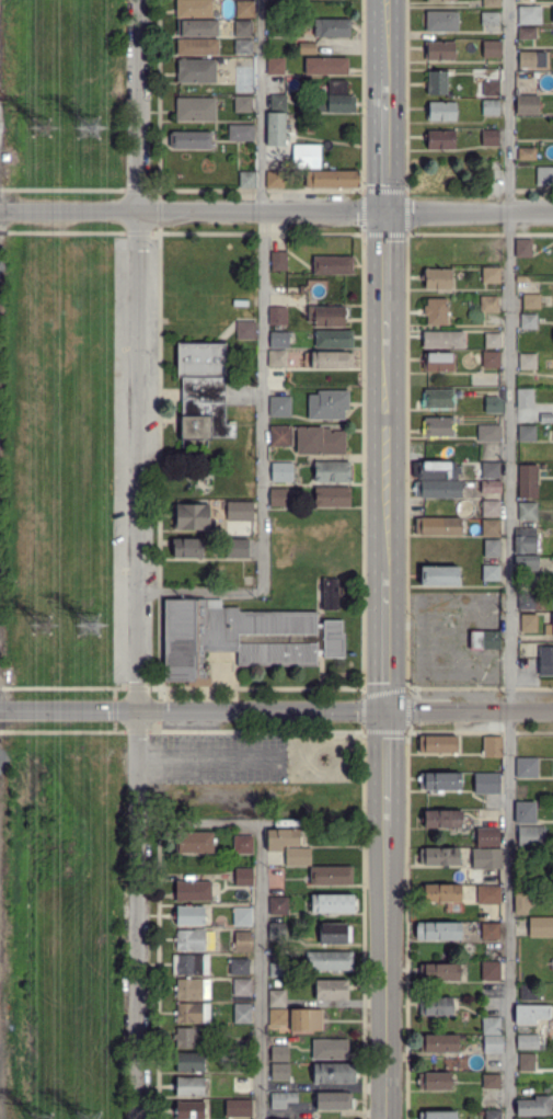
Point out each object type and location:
building: (440, 0)
building: (491, 2)
building: (194, 8)
building: (244, 9)
building: (529, 15)
building: (489, 19)
building: (441, 21)
building: (197, 27)
building: (243, 28)
building: (333, 28)
building: (527, 33)
road: (387, 34)
building: (243, 46)
building: (197, 47)
building: (307, 48)
building: (492, 48)
building: (439, 49)
building: (527, 59)
building: (275, 66)
building: (326, 66)
building: (243, 69)
building: (195, 70)
building: (527, 81)
building: (437, 82)
building: (491, 89)
building: (334, 99)
building: (278, 102)
building: (243, 104)
building: (527, 105)
building: (491, 107)
building: (195, 109)
building: (441, 111)
power tower: (48, 122)
power tower: (91, 122)
building: (276, 129)
building: (241, 133)
building: (491, 137)
building: (439, 139)
building: (189, 140)
road: (387, 140)
building: (527, 153)
building: (304, 155)
building: (5, 157)
building: (280, 160)
building: (544, 175)
building: (247, 179)
building: (275, 179)
building: (332, 179)
road: (193, 210)
traffic signals: (385, 214)
road: (469, 214)
building: (523, 248)
building: (279, 260)
building: (333, 265)
building: (491, 275)
building: (436, 277)
building: (520, 277)
road: (385, 279)
road: (263, 289)
building: (531, 300)
building: (488, 304)
building: (436, 311)
building: (280, 316)
building: (326, 316)
building: (528, 321)
building: (245, 330)
building: (280, 339)
building: (334, 339)
building: (443, 340)
building: (492, 341)
building: (280, 357)
building: (332, 359)
building: (489, 359)
building: (528, 361)
building: (438, 362)
building: (203, 393)
building: (437, 398)
building: (525, 398)
building: (327, 404)
building: (494, 404)
building: (280, 406)
building: (438, 426)
building: (488, 433)
building: (527, 433)
building: (279, 436)
building: (320, 441)
road: (387, 457)
building: (436, 469)
building: (489, 469)
building: (281, 471)
building: (333, 472)
building: (528, 480)
building: (491, 487)
building: (437, 489)
building: (278, 496)
building: (332, 496)
building: (489, 509)
building: (237, 511)
building: (528, 511)
building: (191, 516)
building: (438, 526)
building: (489, 526)
building: (526, 540)
building: (186, 547)
building: (237, 548)
building: (491, 548)
road: (137, 559)
road: (508, 559)
building: (528, 561)
building: (489, 573)
building: (439, 575)
building: (530, 582)
road: (204, 592)
building: (330, 594)
building: (525, 602)
power tower: (46, 621)
building: (529, 623)
power tower: (91, 626)
building: (549, 629)
building: (243, 638)
road: (387, 639)
building: (485, 640)
building: (545, 660)
road: (276, 709)
traffic signals: (387, 710)
building: (438, 744)
building: (494, 744)
road: (204, 757)
parking lot: (216, 757)
road: (387, 764)
building: (527, 767)
building: (439, 781)
building: (489, 783)
building: (526, 813)
building: (440, 818)
road: (198, 821)
building: (530, 836)
building: (283, 837)
building: (493, 840)
building: (194, 843)
building: (245, 843)
building: (526, 856)
building: (298, 857)
building: (439, 857)
building: (491, 858)
building: (331, 876)
building: (244, 877)
building: (193, 891)
building: (488, 893)
building: (443, 894)
building: (522, 902)
building: (334, 903)
building: (279, 905)
building: (189, 915)
building: (243, 916)
building: (541, 926)
building: (277, 930)
building: (439, 930)
building: (491, 930)
building: (335, 934)
building: (191, 940)
building: (243, 940)
building: (329, 960)
building: (189, 963)
building: (239, 966)
building: (275, 969)
road: (387, 969)
road: (258, 970)
building: (492, 970)
building: (439, 972)
building: (242, 986)
building: (192, 989)
building: (332, 990)
building: (529, 992)
building: (277, 998)
building: (437, 1006)
building: (193, 1014)
building: (243, 1014)
building: (533, 1014)
building: (278, 1017)
building: (306, 1020)
building: (492, 1026)
building: (186, 1038)
building: (528, 1042)
building: (439, 1043)
building: (494, 1043)
building: (331, 1049)
building: (280, 1054)
building: (220, 1057)
building: (191, 1062)
building: (530, 1062)
building: (280, 1072)
building: (334, 1073)
building: (435, 1082)
building: (492, 1082)
building: (242, 1085)
building: (191, 1087)
building: (546, 1088)
building: (284, 1100)
building: (306, 1100)
building: (335, 1100)
building: (535, 1107)
building: (243, 1109)
building: (189, 1110)
building: (494, 1115)
building: (438, 1116)
power tower: (93, 1117)
building: (288, 1118)

